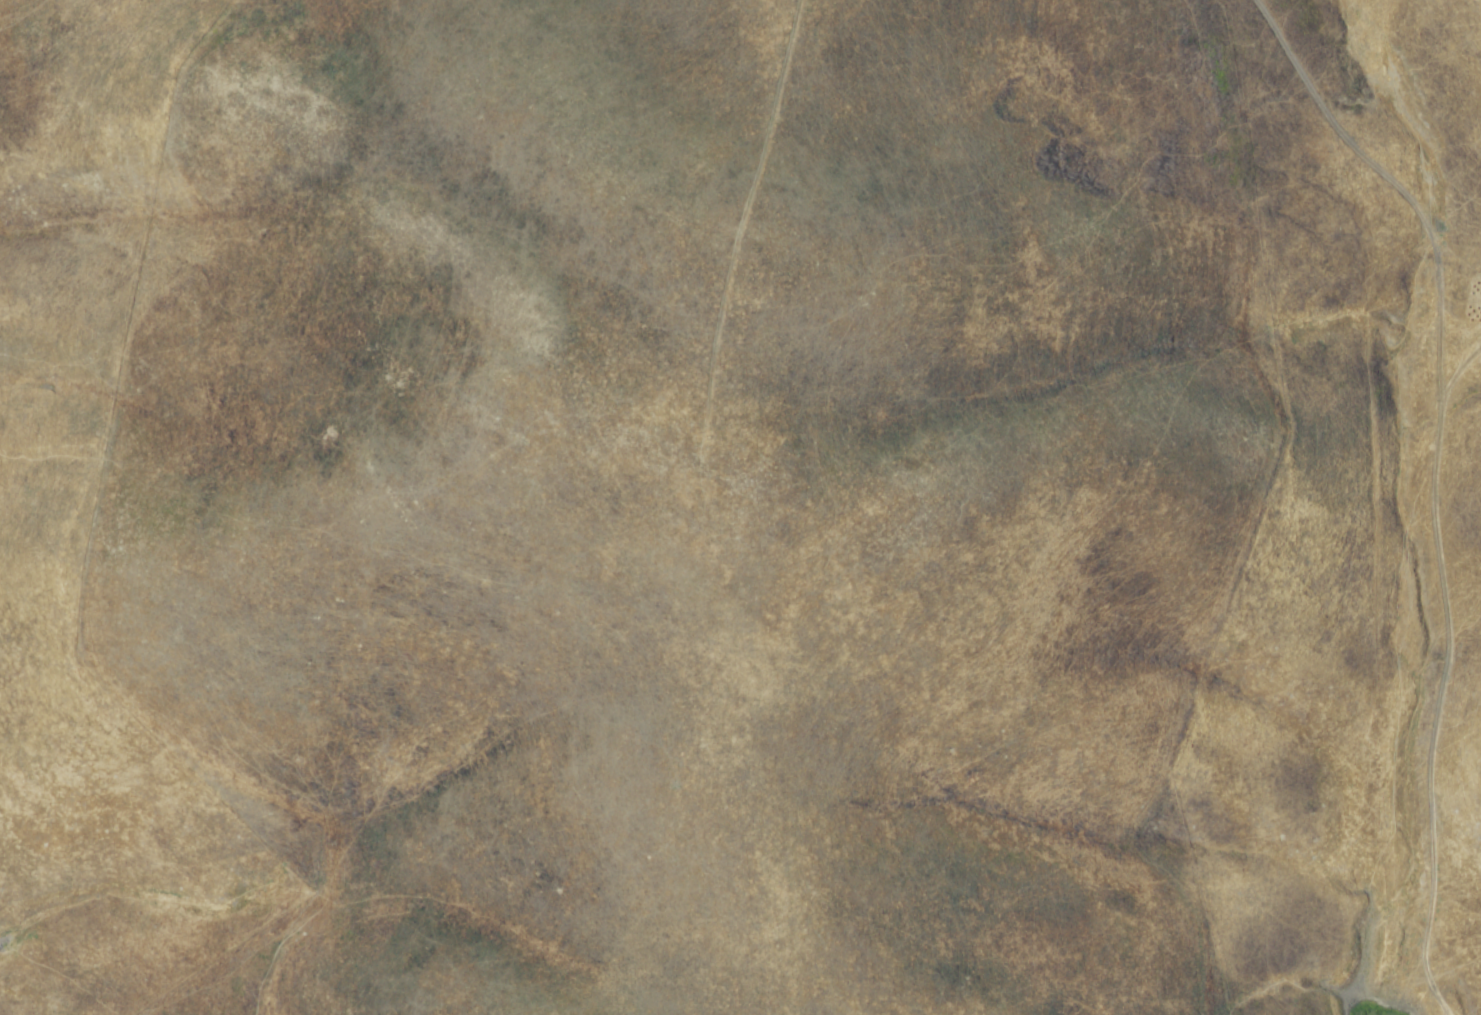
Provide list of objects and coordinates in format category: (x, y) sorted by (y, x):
crop: (740, 507)

